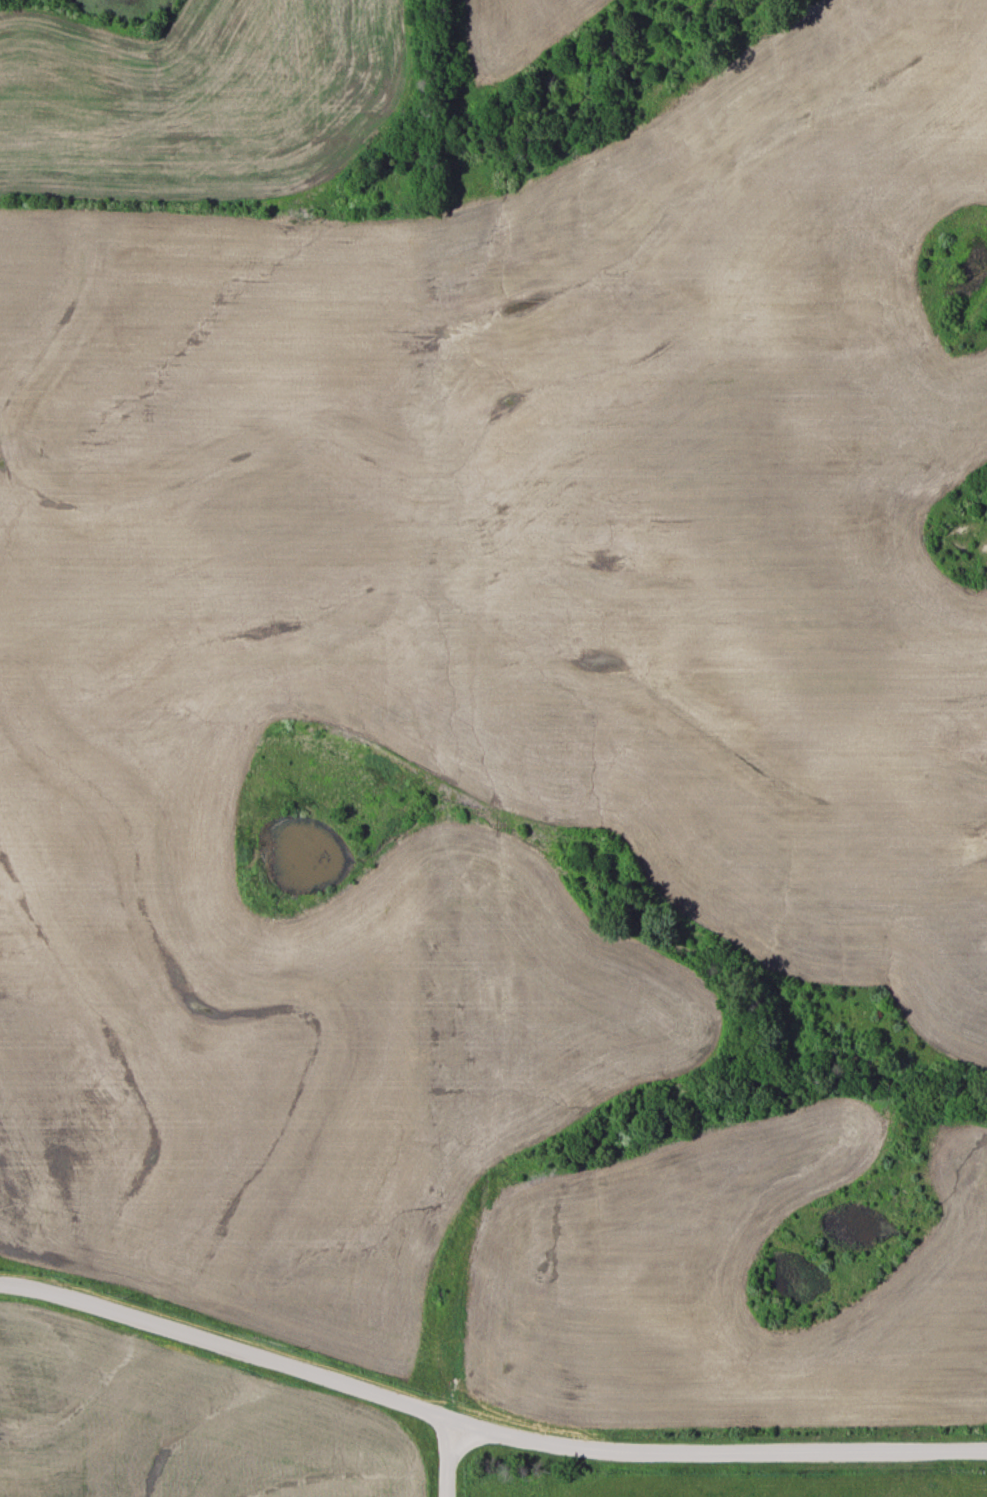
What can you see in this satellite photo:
road: (483, 1425)
road: (458, 1461)

